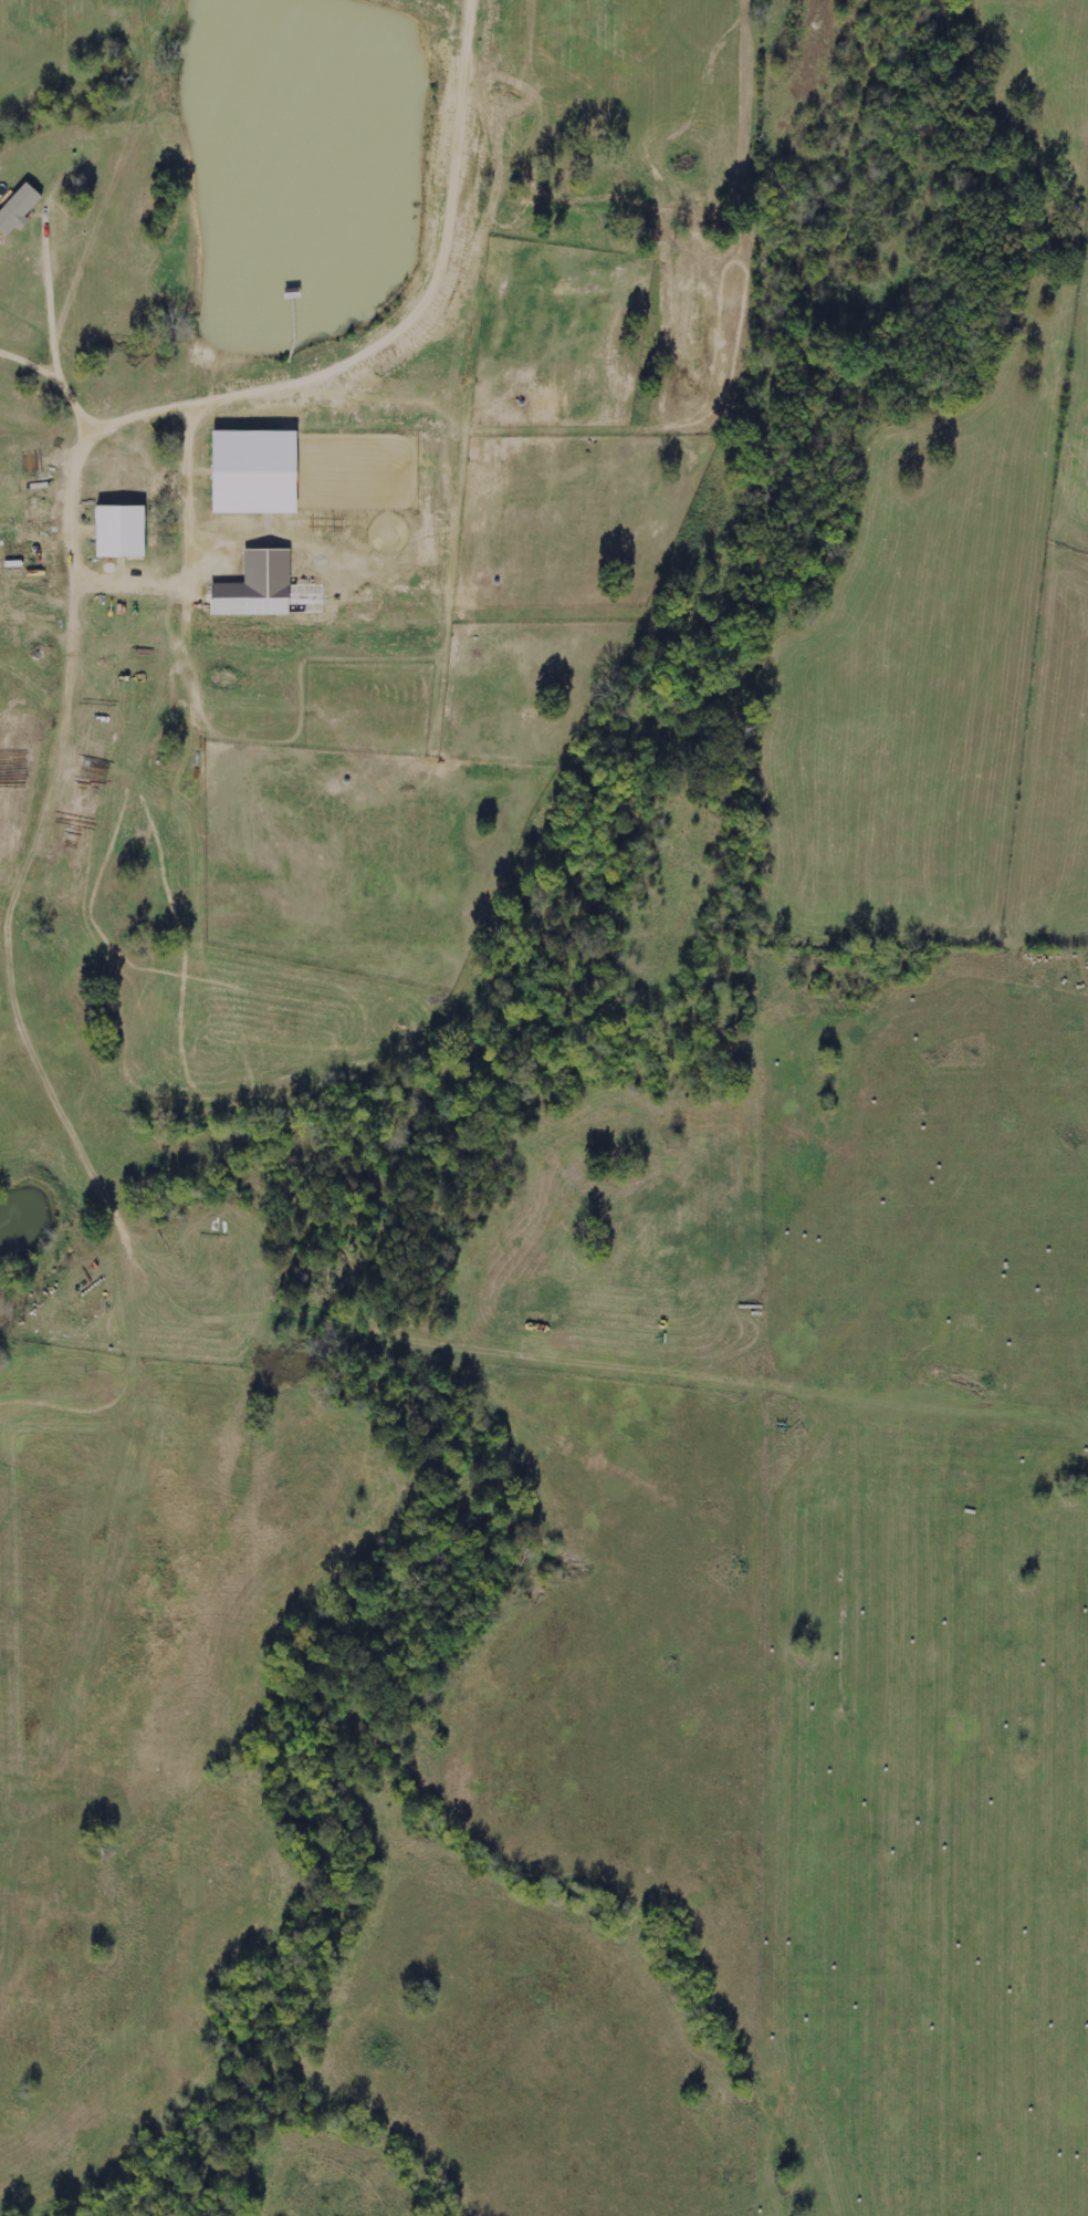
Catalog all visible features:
building: (17, 210)
building: (117, 533)
building: (226, 600)

